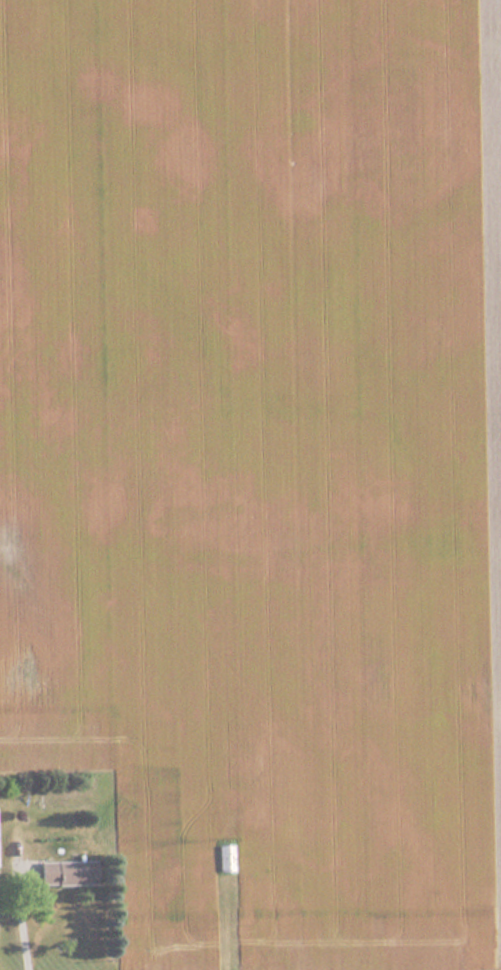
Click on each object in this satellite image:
building: (225, 857)
building: (64, 872)
road: (21, 911)

